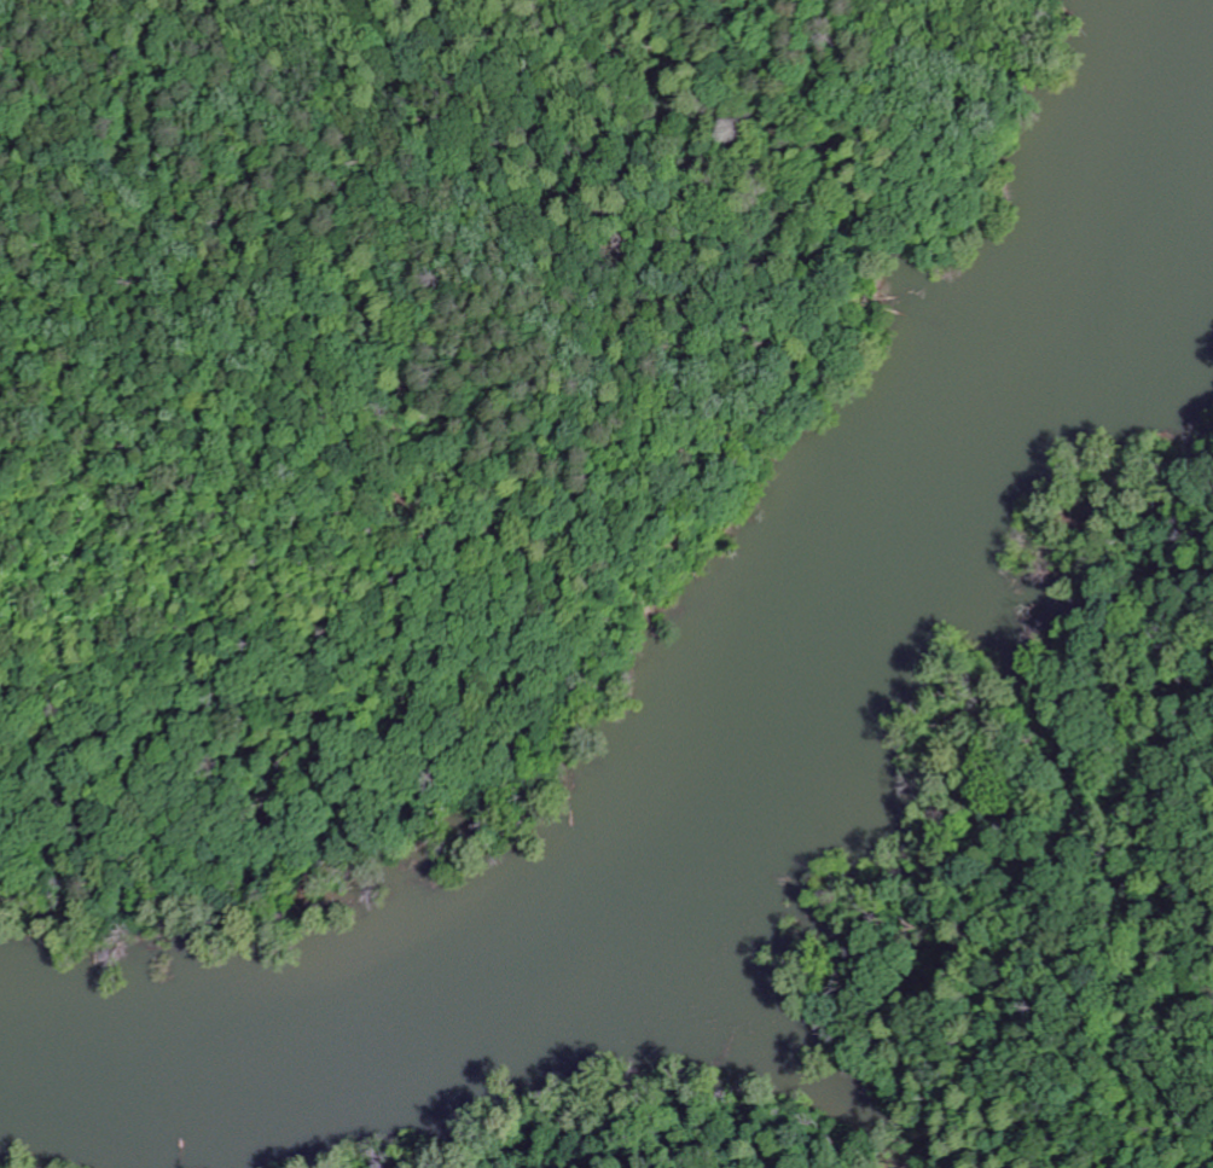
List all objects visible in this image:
river: (749, 736)

